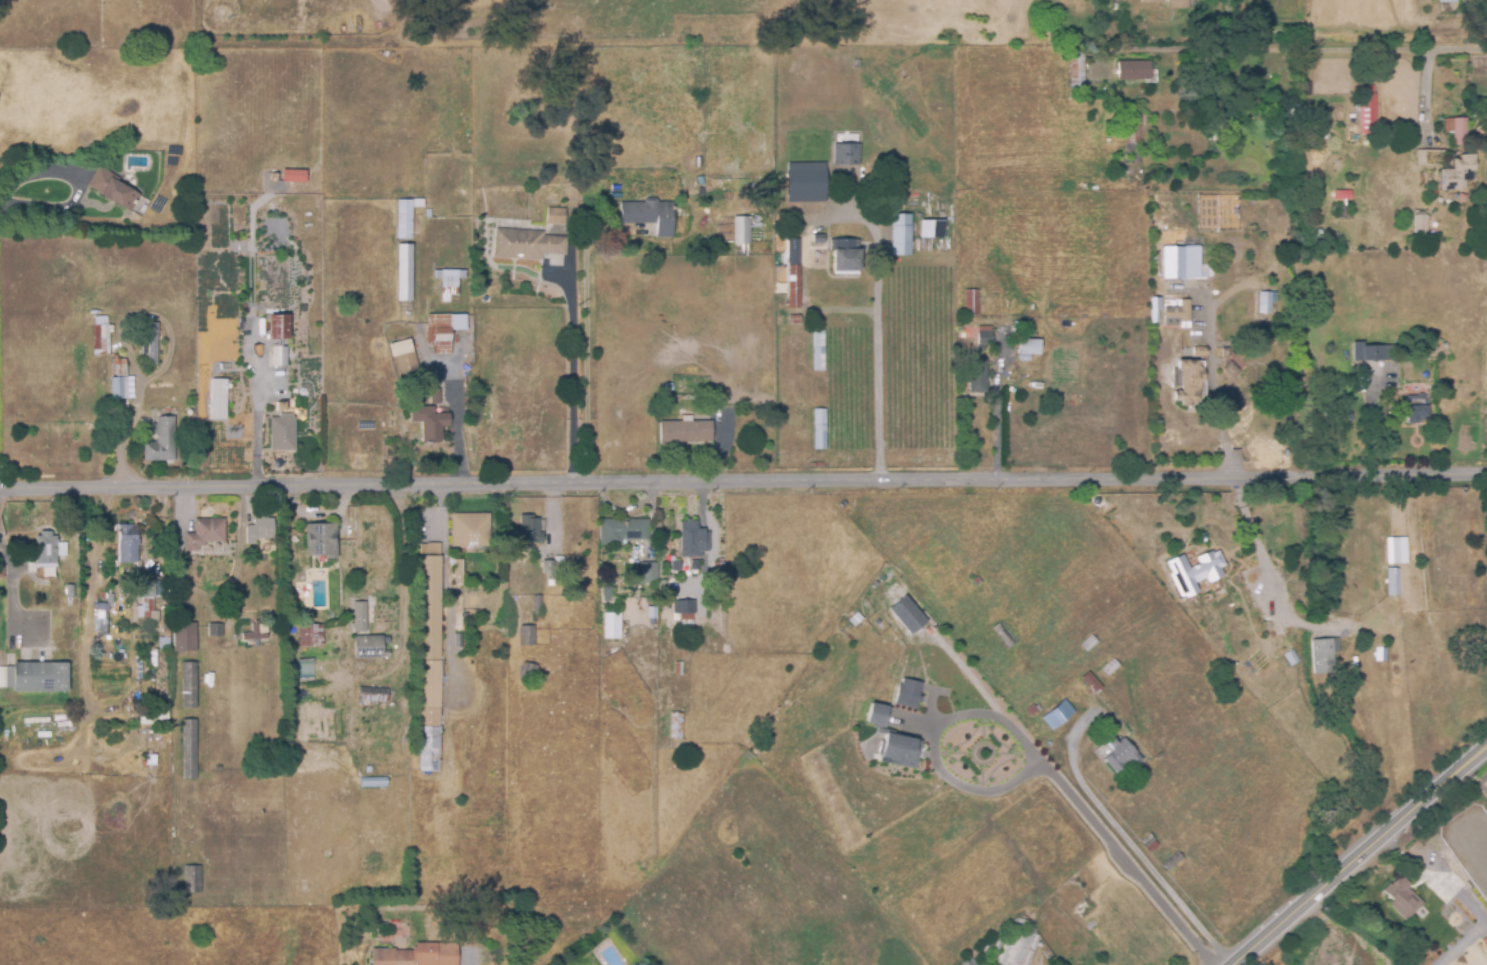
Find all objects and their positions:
building: (1152, 1)
building: (1447, 1)
building: (1178, 3)
road: (1343, 42)
building: (855, 65)
building: (1076, 66)
building: (1131, 71)
building: (1294, 110)
building: (1367, 114)
building: (1457, 130)
building: (1131, 138)
building: (1376, 139)
building: (1217, 144)
building: (845, 155)
building: (1460, 170)
building: (292, 175)
building: (806, 183)
road: (77, 185)
building: (112, 186)
building: (1434, 193)
building: (888, 204)
building: (557, 213)
building: (647, 216)
building: (406, 217)
building: (754, 221)
building: (257, 225)
building: (930, 228)
building: (1420, 228)
building: (741, 234)
building: (903, 235)
building: (816, 240)
building: (528, 242)
building: (847, 258)
building: (1177, 264)
building: (792, 274)
building: (451, 278)
building: (406, 279)
building: (1265, 303)
building: (970, 304)
building: (1154, 310)
building: (1176, 315)
building: (793, 321)
building: (445, 328)
building: (102, 333)
building: (280, 336)
road: (878, 336)
building: (982, 340)
building: (153, 342)
road: (123, 343)
building: (1028, 347)
building: (817, 352)
building: (1199, 352)
building: (1225, 353)
building: (1369, 353)
building: (407, 358)
building: (1023, 359)
road: (572, 370)
building: (1230, 370)
building: (975, 376)
building: (120, 377)
building: (1486, 378)
building: (1189, 382)
road: (1212, 385)
building: (666, 387)
building: (437, 394)
building: (220, 397)
building: (715, 400)
building: (284, 405)
road: (996, 407)
building: (1414, 412)
building: (431, 420)
road: (455, 423)
building: (818, 430)
building: (284, 431)
building: (683, 433)
building: (162, 438)
road: (743, 480)
building: (1220, 526)
building: (262, 527)
building: (207, 531)
building: (472, 531)
building: (525, 532)
building: (613, 533)
building: (692, 537)
building: (322, 538)
building: (130, 541)
building: (47, 549)
building: (1392, 551)
building: (1486, 556)
building: (676, 566)
building: (2, 567)
building: (694, 567)
building: (459, 569)
building: (546, 570)
road: (1270, 571)
building: (646, 572)
building: (1195, 572)
building: (976, 581)
building: (1393, 582)
road: (447, 586)
building: (600, 592)
road: (208, 596)
building: (149, 598)
building: (167, 607)
building: (686, 611)
building: (651, 612)
building: (361, 614)
building: (907, 616)
building: (101, 621)
building: (604, 627)
building: (216, 628)
building: (259, 631)
building: (312, 633)
building: (186, 635)
building: (1004, 635)
building: (167, 636)
building: (529, 638)
building: (1088, 643)
building: (372, 645)
building: (1380, 654)
building: (1324, 655)
building: (1291, 659)
building: (431, 661)
building: (304, 668)
building: (1110, 668)
building: (679, 669)
road: (972, 673)
building: (39, 675)
building: (191, 682)
building: (1091, 685)
building: (375, 693)
building: (907, 694)
building: (1033, 710)
building: (1057, 714)
building: (876, 716)
building: (157, 721)
building: (676, 726)
building: (899, 751)
road: (1034, 755)
building: (1121, 755)
building: (191, 758)
building: (373, 779)
building: (1149, 842)
road: (1352, 850)
building: (1171, 862)
building: (193, 877)
building: (376, 883)
building: (1402, 898)
building: (1085, 908)
building: (1460, 912)
building: (1011, 945)
building: (419, 954)
building: (969, 961)

